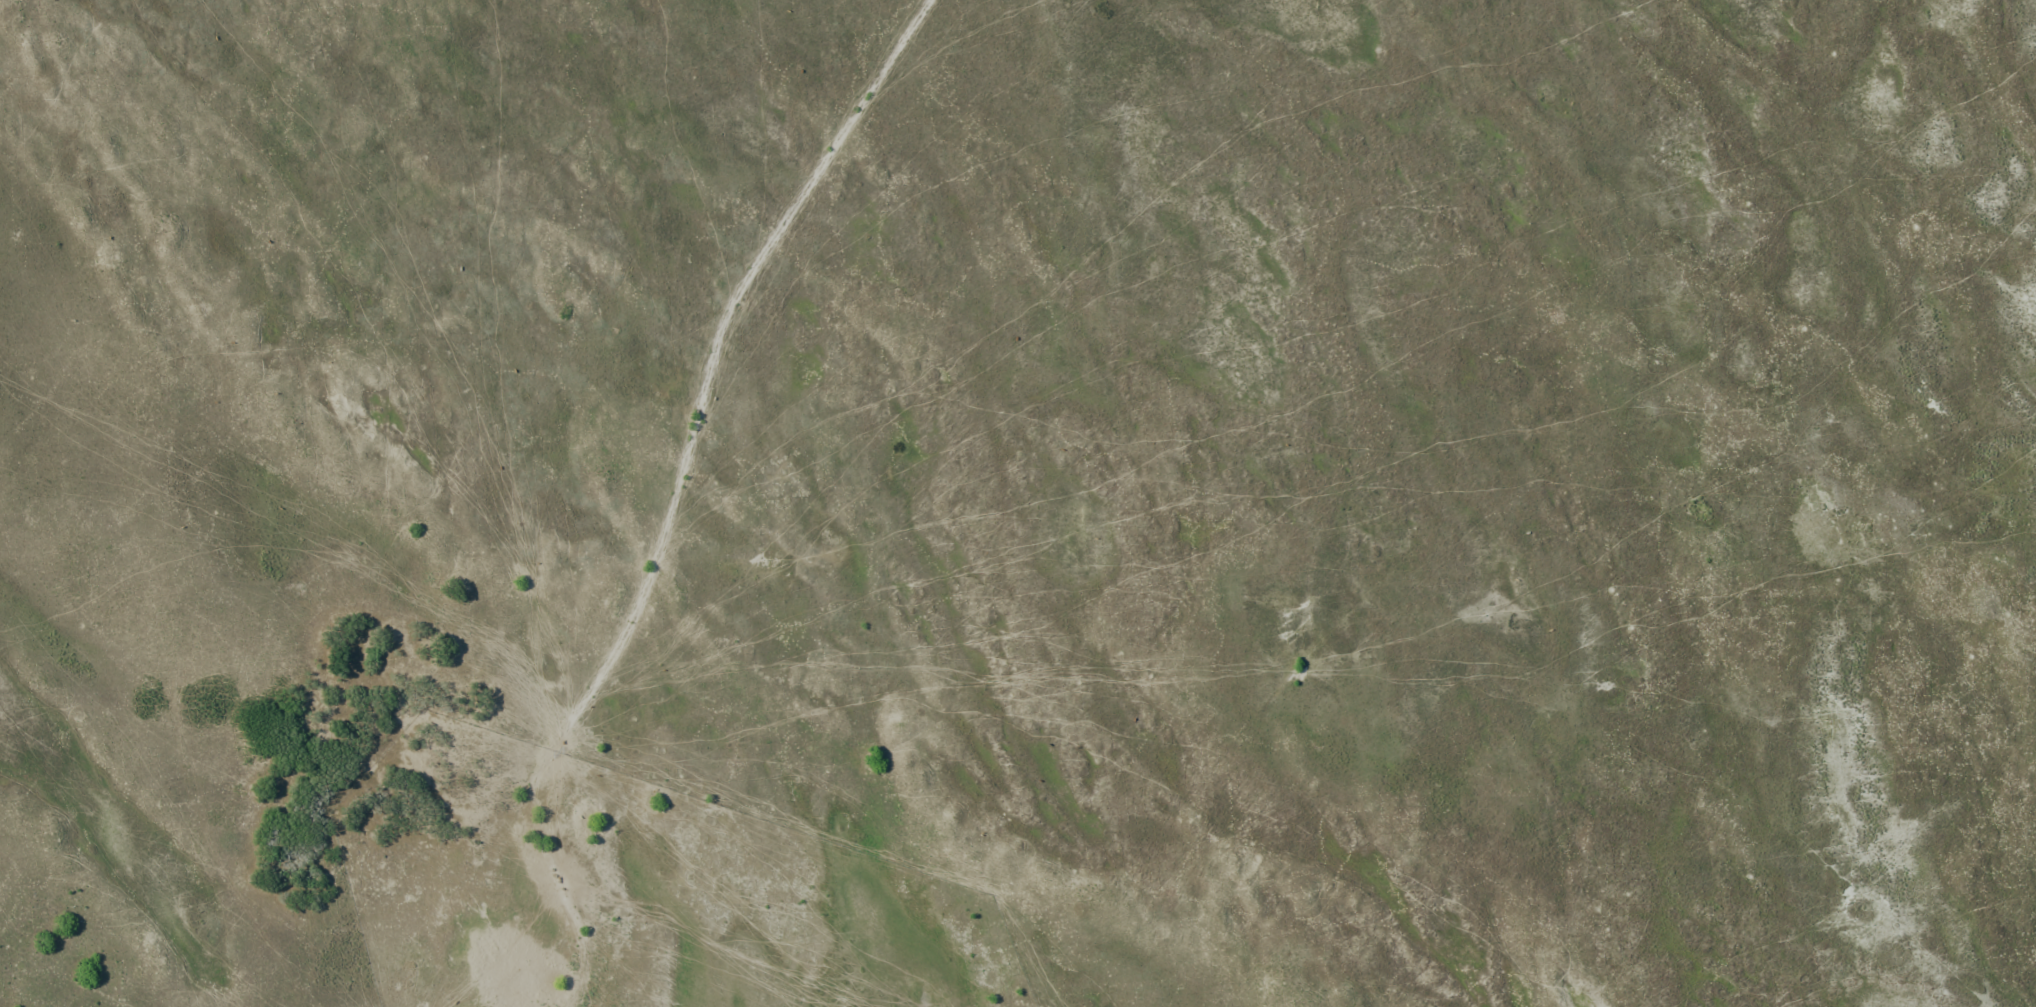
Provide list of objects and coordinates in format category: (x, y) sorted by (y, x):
road: (197, 359)

